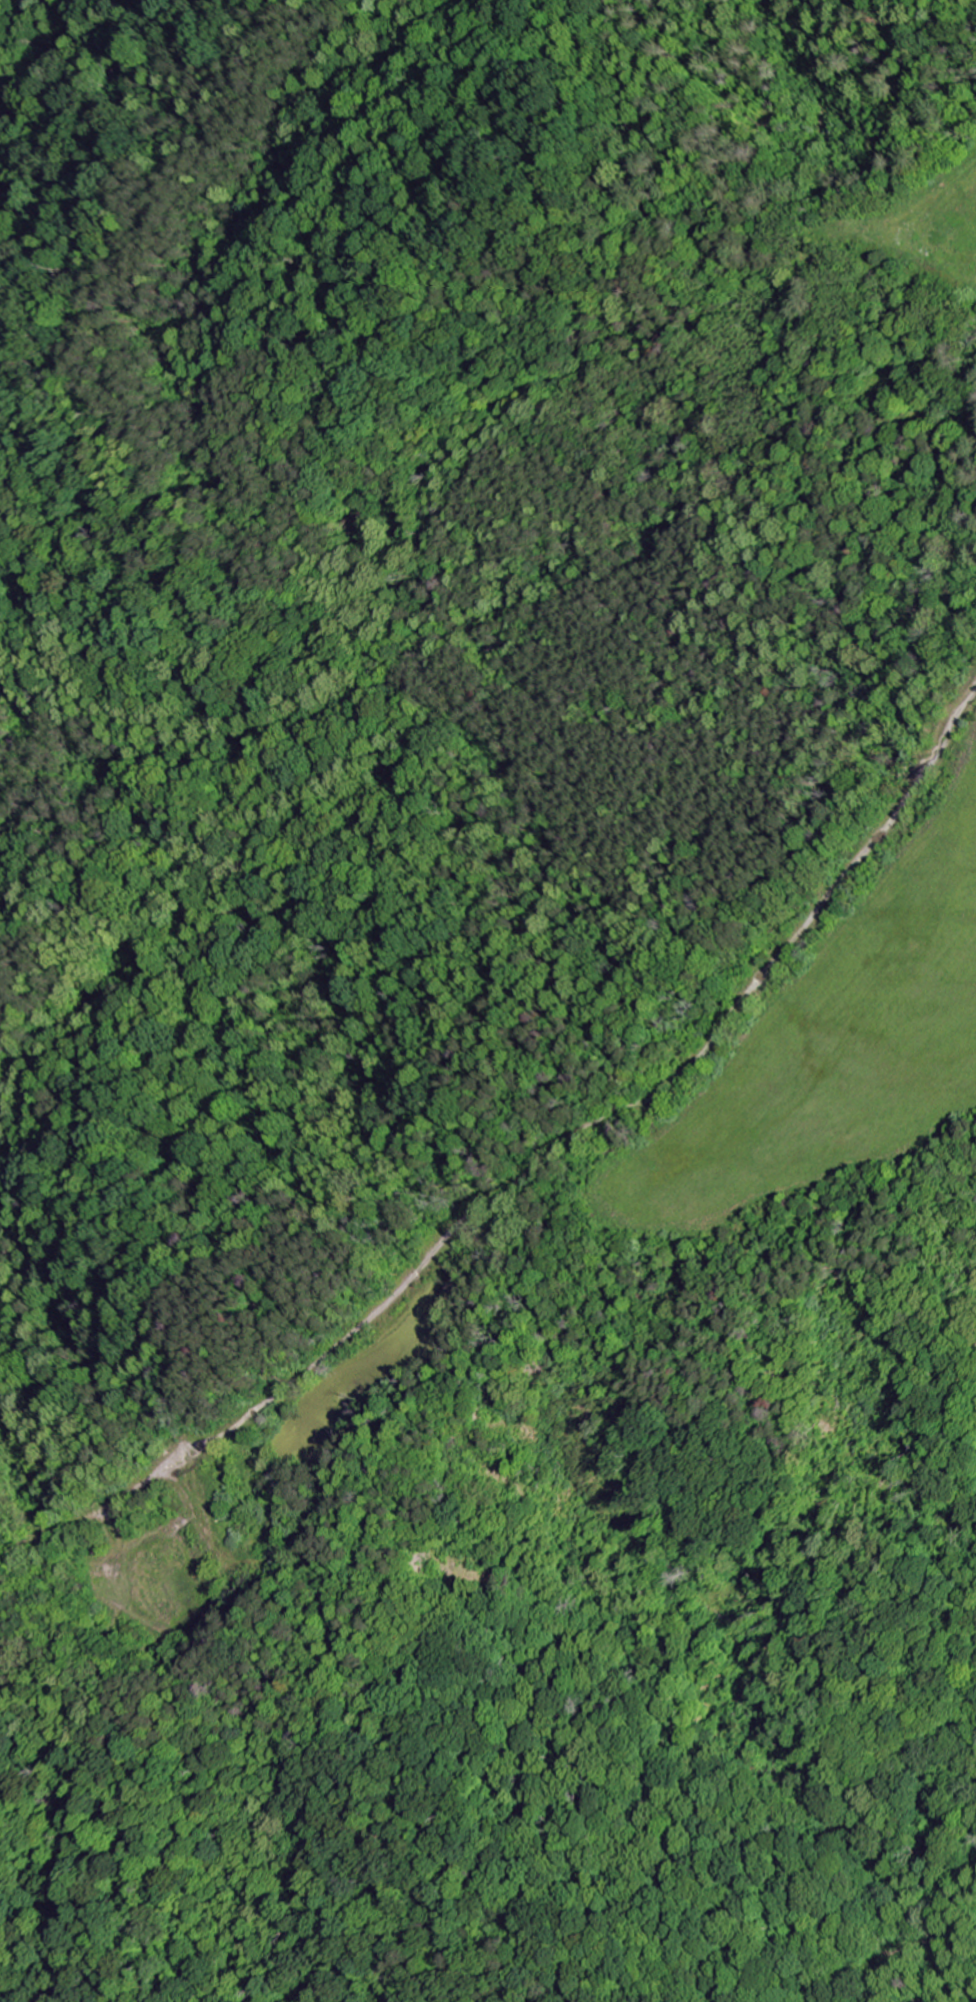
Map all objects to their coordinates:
road: (530, 1170)

